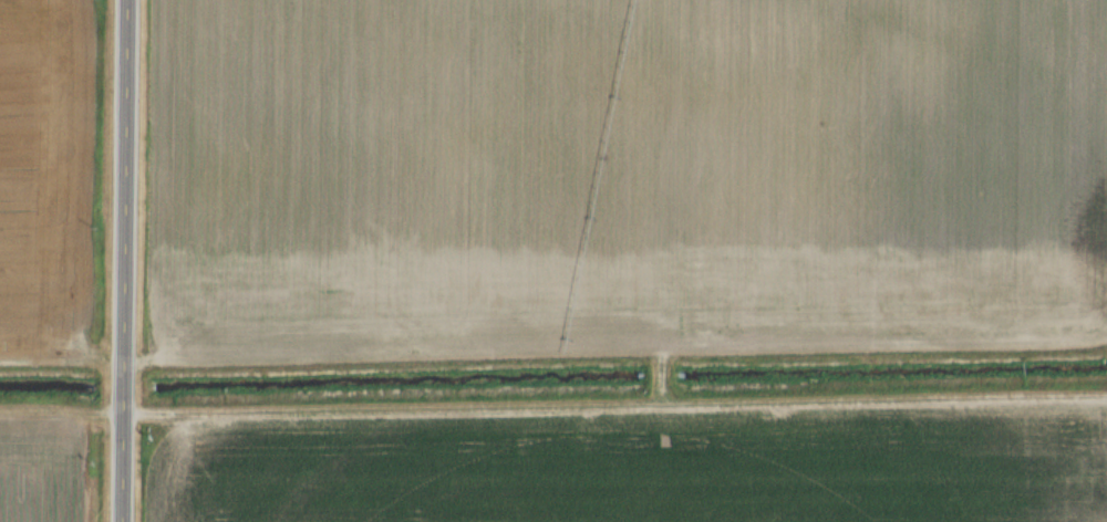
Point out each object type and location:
road: (123, 261)

